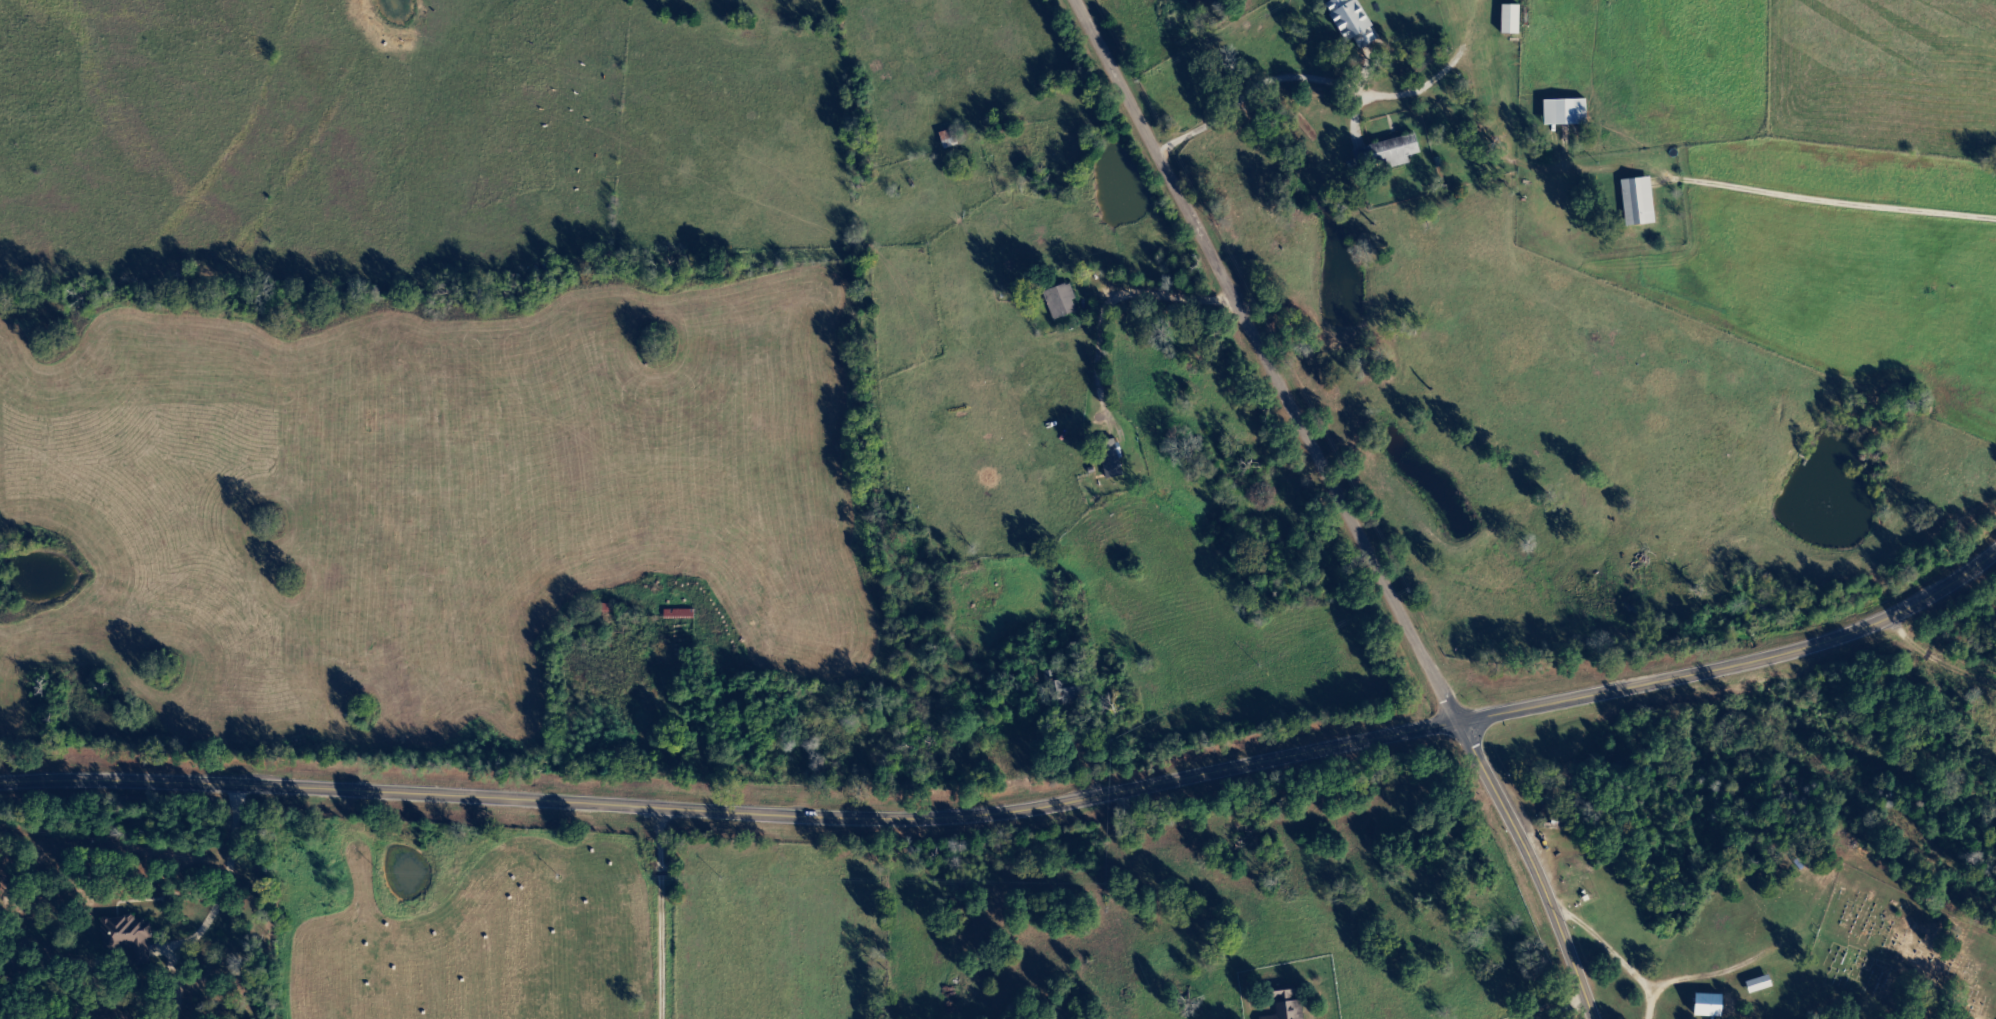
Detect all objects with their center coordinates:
building: (1511, 20)
building: (1352, 22)
road: (1130, 64)
road: (1332, 70)
building: (1566, 113)
building: (1394, 153)
building: (1639, 203)
road: (1724, 299)
building: (1061, 302)
road: (1844, 356)
road: (1305, 419)
building: (1112, 459)
building: (680, 613)
road: (1956, 641)
building: (1068, 692)
road: (1017, 807)
road: (1533, 866)
road: (647, 913)
building: (134, 937)
park: (1901, 953)
building: (1774, 974)
road: (1674, 983)
road: (1657, 993)
road: (1648, 1000)
building: (1708, 1004)
building: (1288, 1005)

